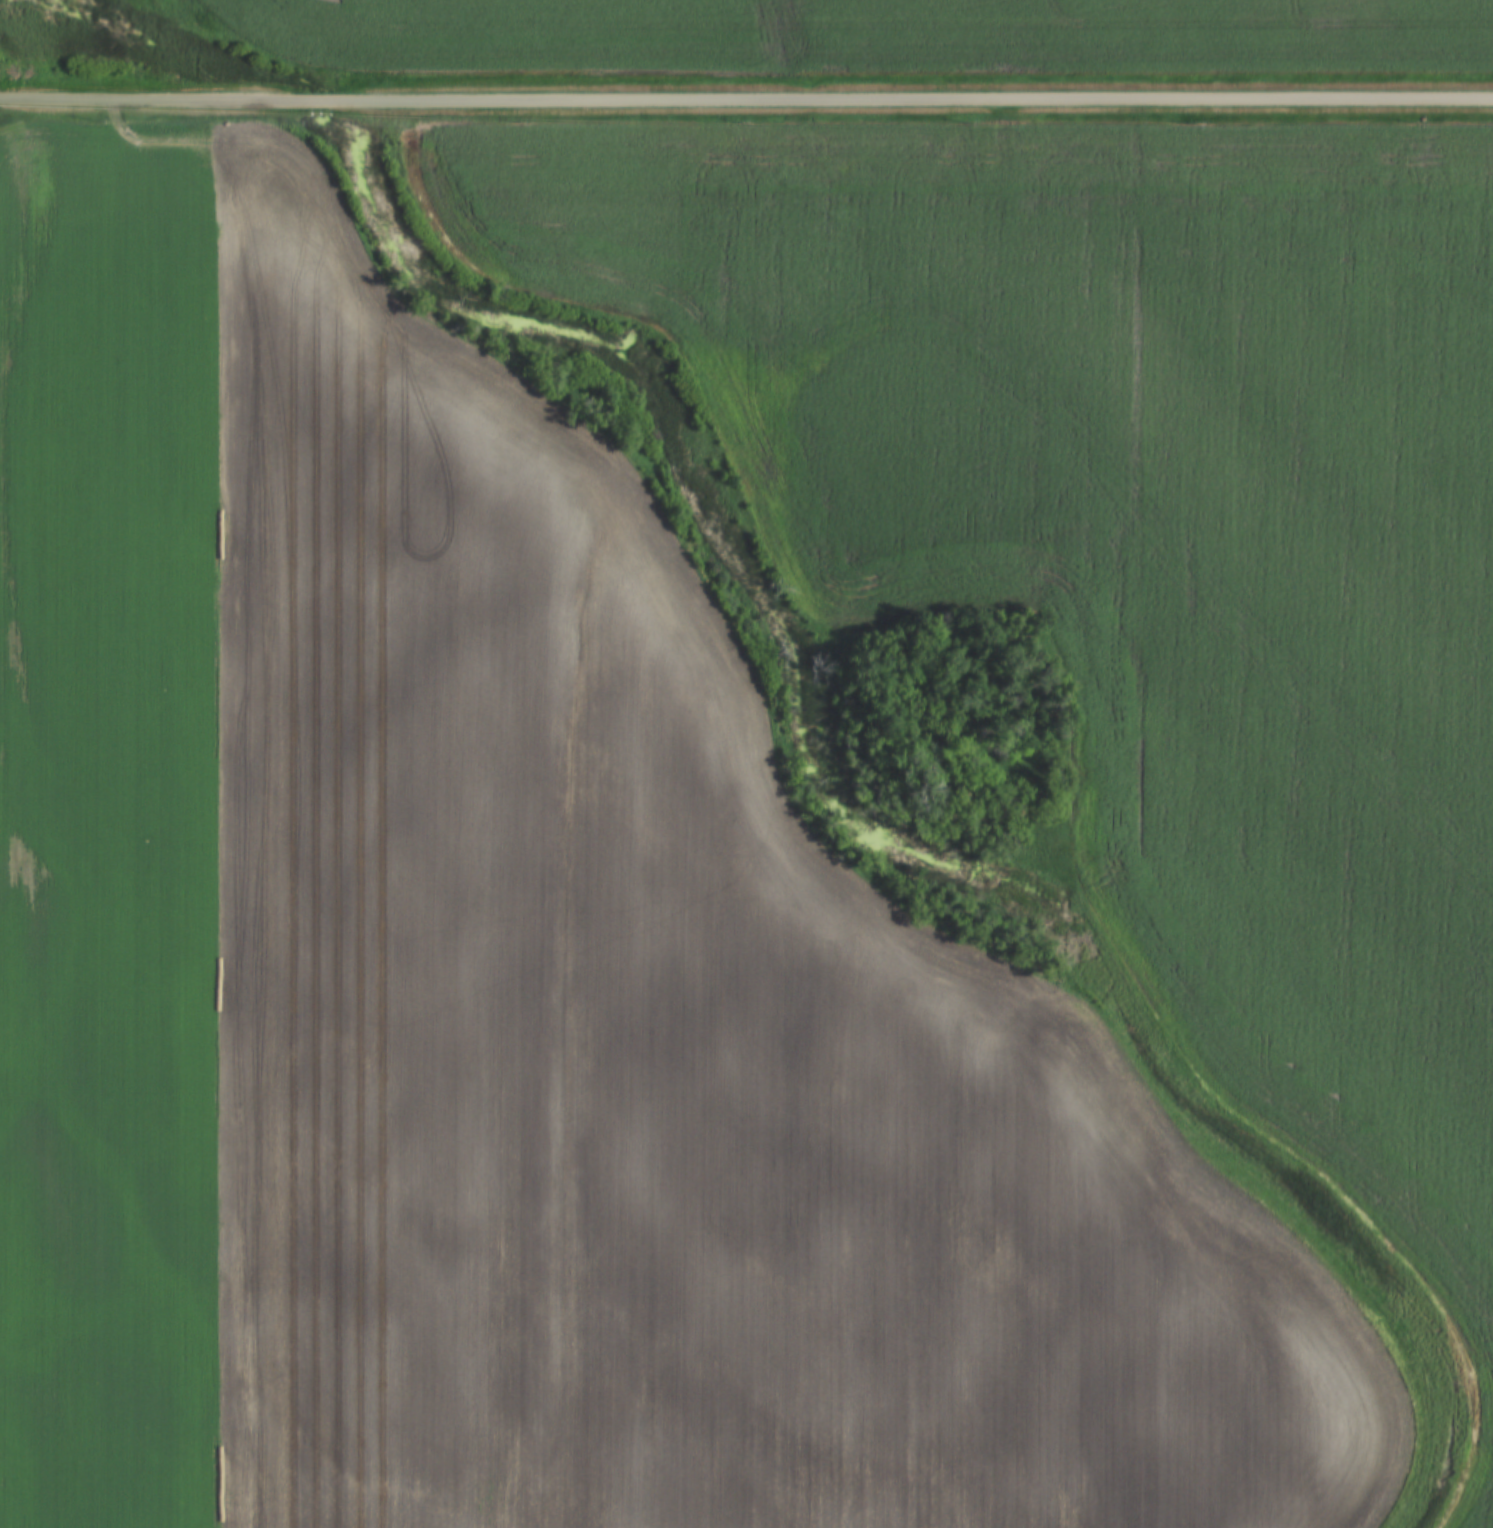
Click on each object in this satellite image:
road: (746, 103)

